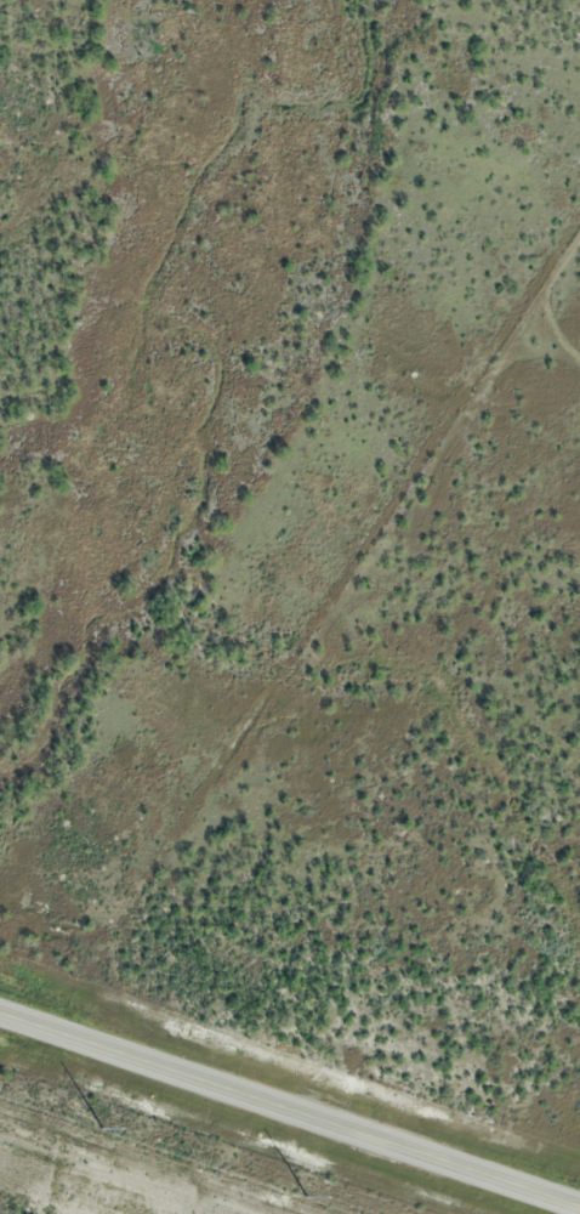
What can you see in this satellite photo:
road: (290, 1111)
power tower: (103, 1128)
power tower: (307, 1197)

